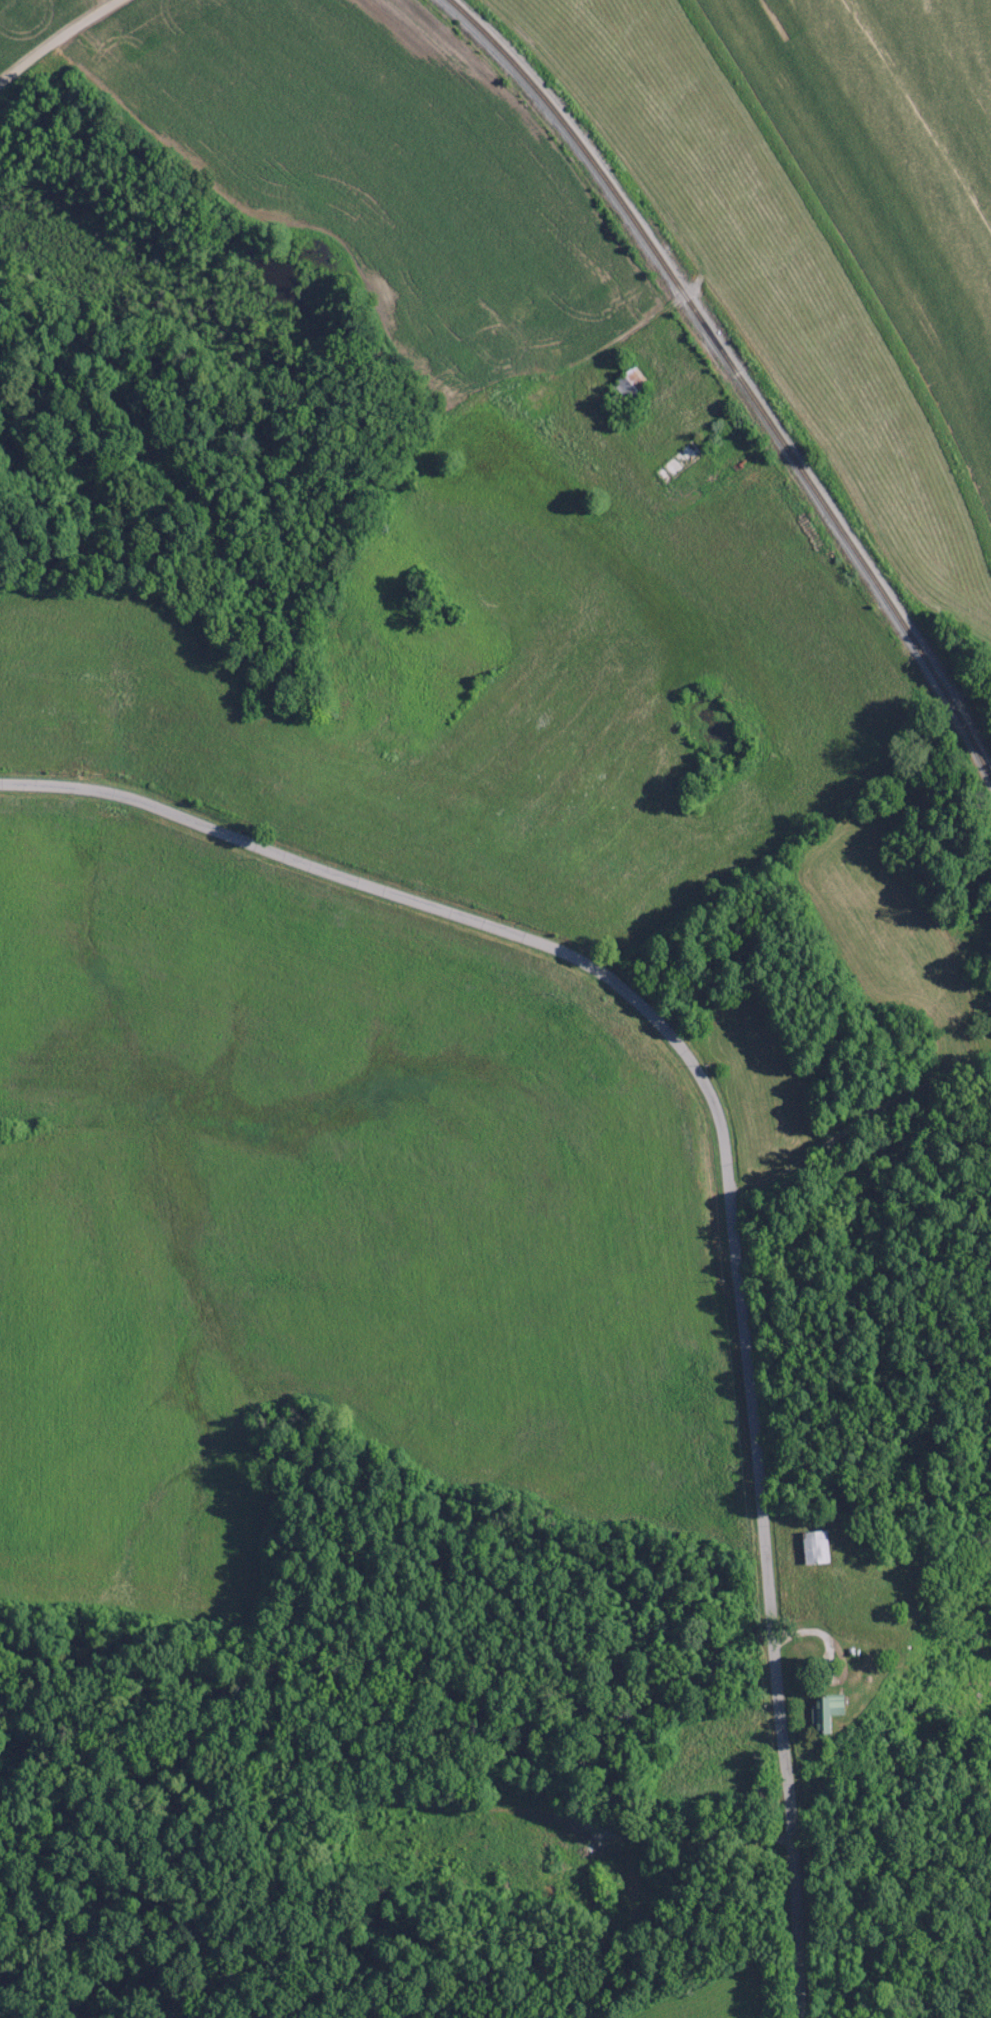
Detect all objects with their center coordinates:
road: (57, 40)
railway: (743, 387)
road: (571, 395)
park: (976, 1029)
road: (727, 1156)
building: (831, 1711)

